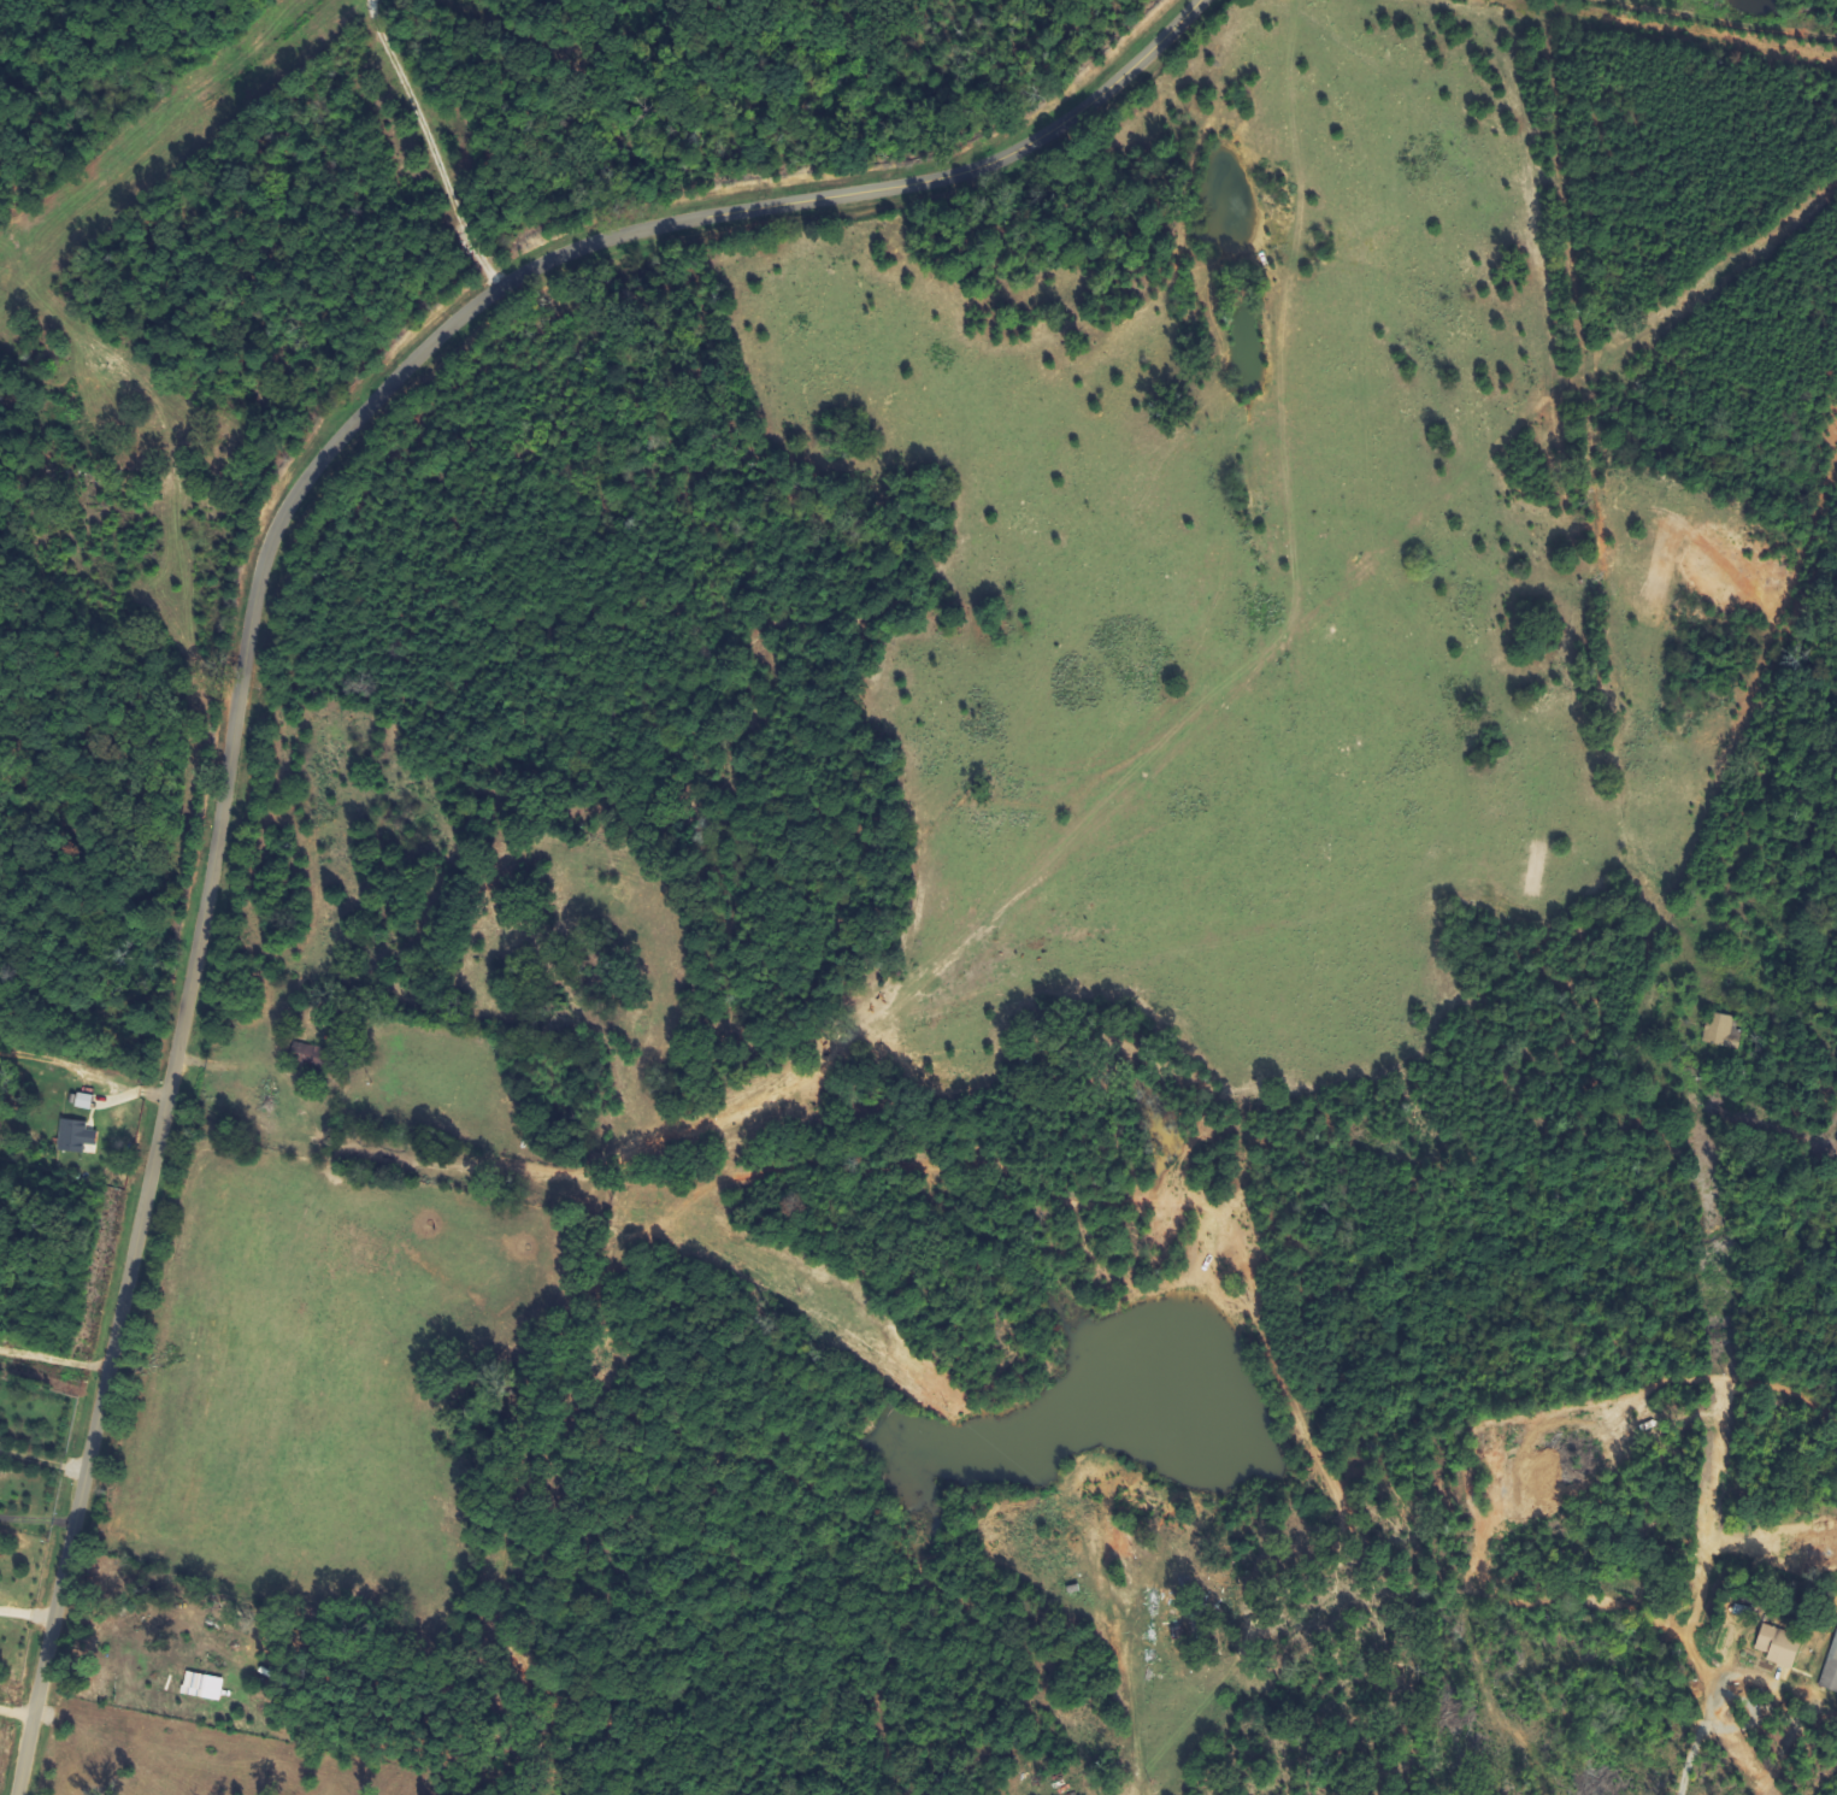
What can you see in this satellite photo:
road: (177, 499)
road: (252, 617)
road: (1550, 918)
building: (1725, 1029)
building: (317, 1058)
building: (87, 1101)
building: (78, 1135)
road: (923, 1169)
road: (1329, 1570)
building: (1782, 1646)
building: (1831, 1671)
building: (205, 1685)
road: (16, 1714)
road: (1142, 1777)

